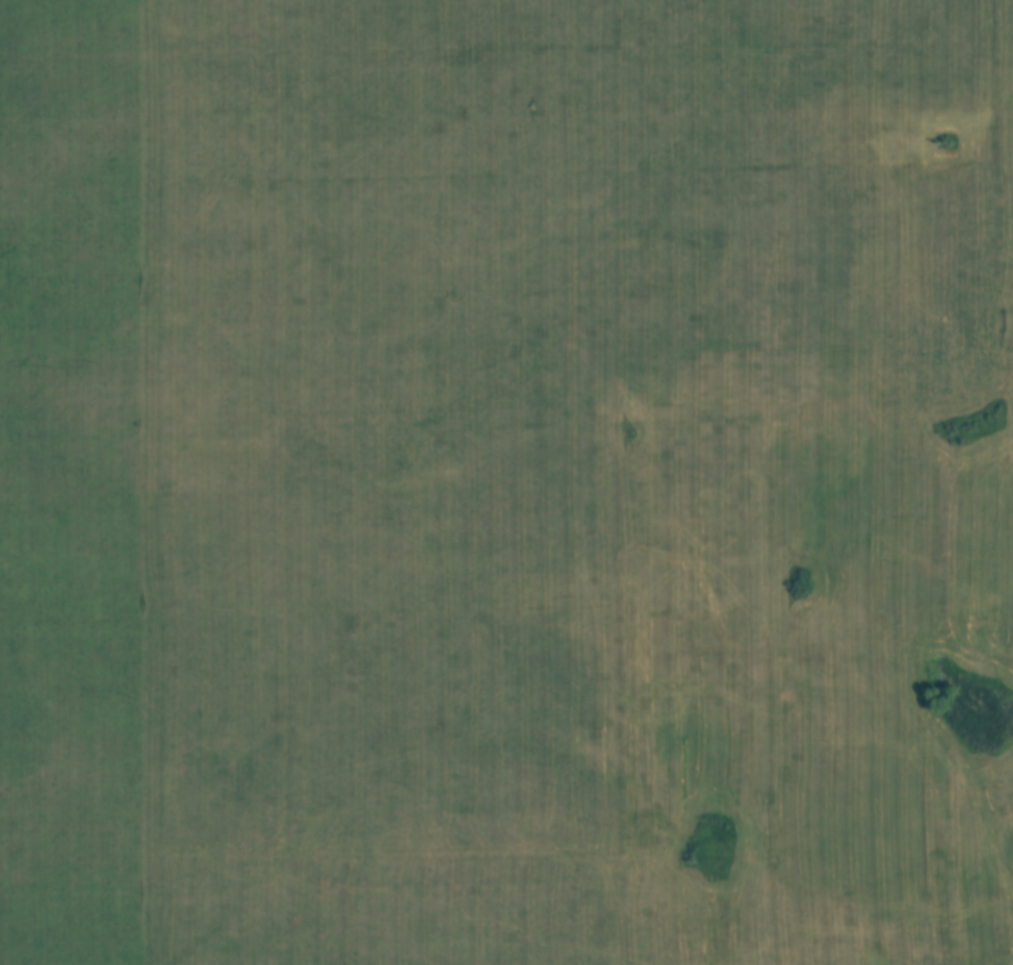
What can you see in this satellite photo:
road: (1012, 87)

